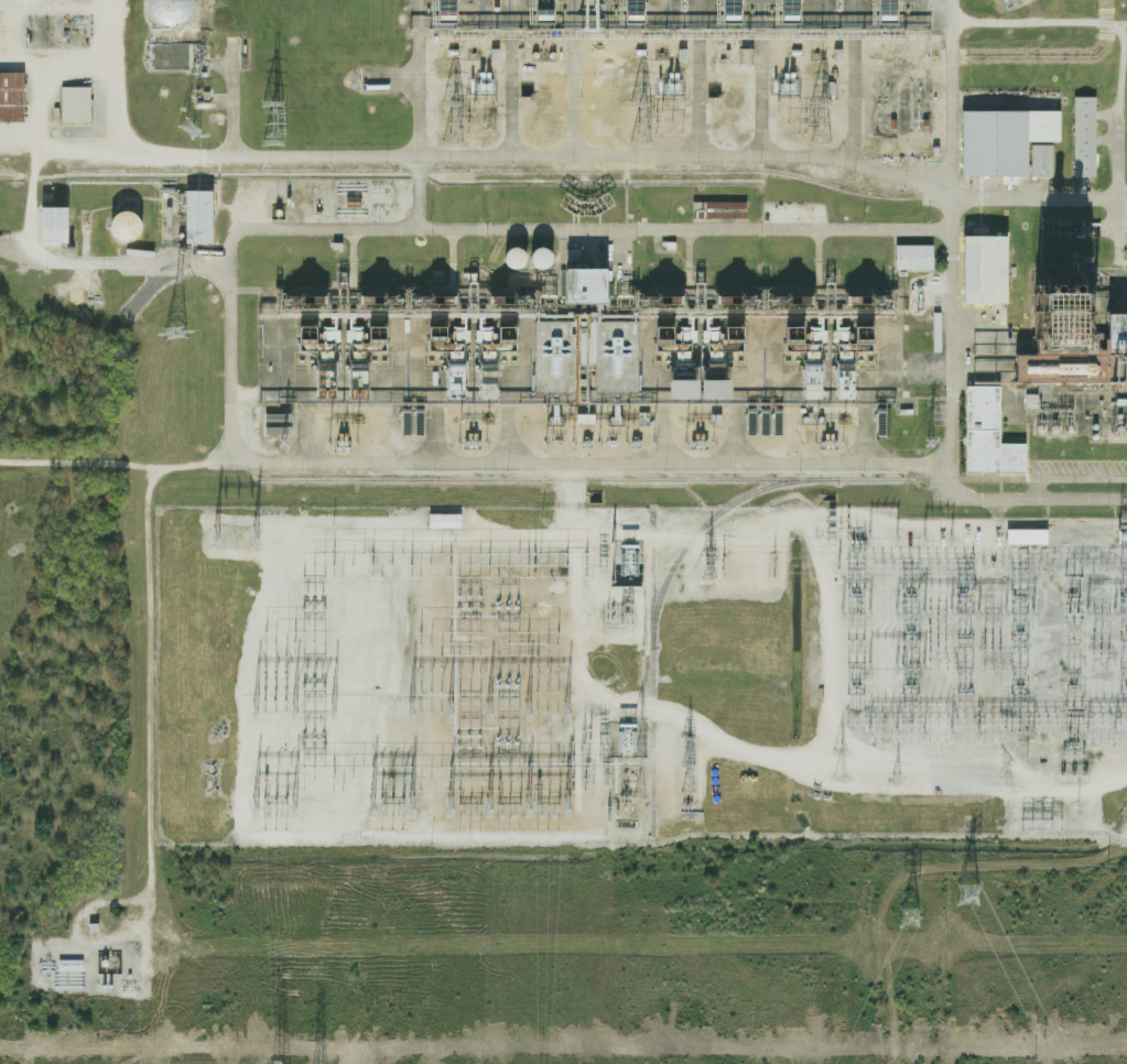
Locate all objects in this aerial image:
building: (1004, 2)
road: (2, 3)
building: (685, 4)
building: (841, 4)
building: (736, 8)
building: (170, 11)
building: (549, 11)
building: (795, 11)
road: (1036, 17)
road: (2, 29)
road: (4, 54)
building: (746, 56)
road: (31, 64)
road: (109, 82)
road: (384, 87)
road: (945, 93)
building: (11, 98)
road: (415, 105)
building: (75, 107)
road: (500, 108)
road: (566, 109)
road: (693, 109)
road: (755, 109)
road: (850, 109)
power tower: (189, 129)
building: (1083, 139)
building: (1003, 142)
building: (1040, 161)
road: (111, 164)
railway: (1114, 197)
road: (1041, 204)
building: (717, 211)
building: (198, 218)
building: (54, 226)
building: (124, 227)
road: (589, 231)
road: (158, 243)
road: (819, 250)
building: (914, 257)
road: (683, 262)
road: (344, 265)
road: (418, 267)
building: (987, 269)
road: (15, 270)
building: (585, 289)
chimney: (1047, 290)
chimney: (1065, 291)
road: (387, 301)
road: (579, 317)
road: (220, 318)
road: (1095, 330)
power tower: (177, 335)
building: (1062, 345)
building: (586, 347)
building: (1118, 351)
building: (555, 359)
building: (616, 359)
building: (369, 362)
building: (446, 362)
building: (498, 362)
building: (804, 362)
building: (317, 363)
building: (674, 363)
building: (855, 363)
building: (719, 365)
road: (945, 382)
road: (957, 393)
building: (1031, 401)
building: (987, 435)
power tower: (284, 442)
road: (732, 444)
road: (859, 444)
power tower: (932, 444)
road: (427, 445)
road: (657, 445)
road: (297, 446)
road: (502, 446)
railway: (692, 480)
building: (445, 521)
power plant: (564, 522)
railway: (706, 522)
road: (1029, 526)
building: (1028, 536)
power tower: (723, 563)
power tower: (838, 563)
power substation: (637, 674)
railway: (651, 674)
road: (149, 678)
power tower: (897, 777)
power tower: (1008, 777)
power tower: (967, 895)
power tower: (909, 918)
road: (40, 956)

